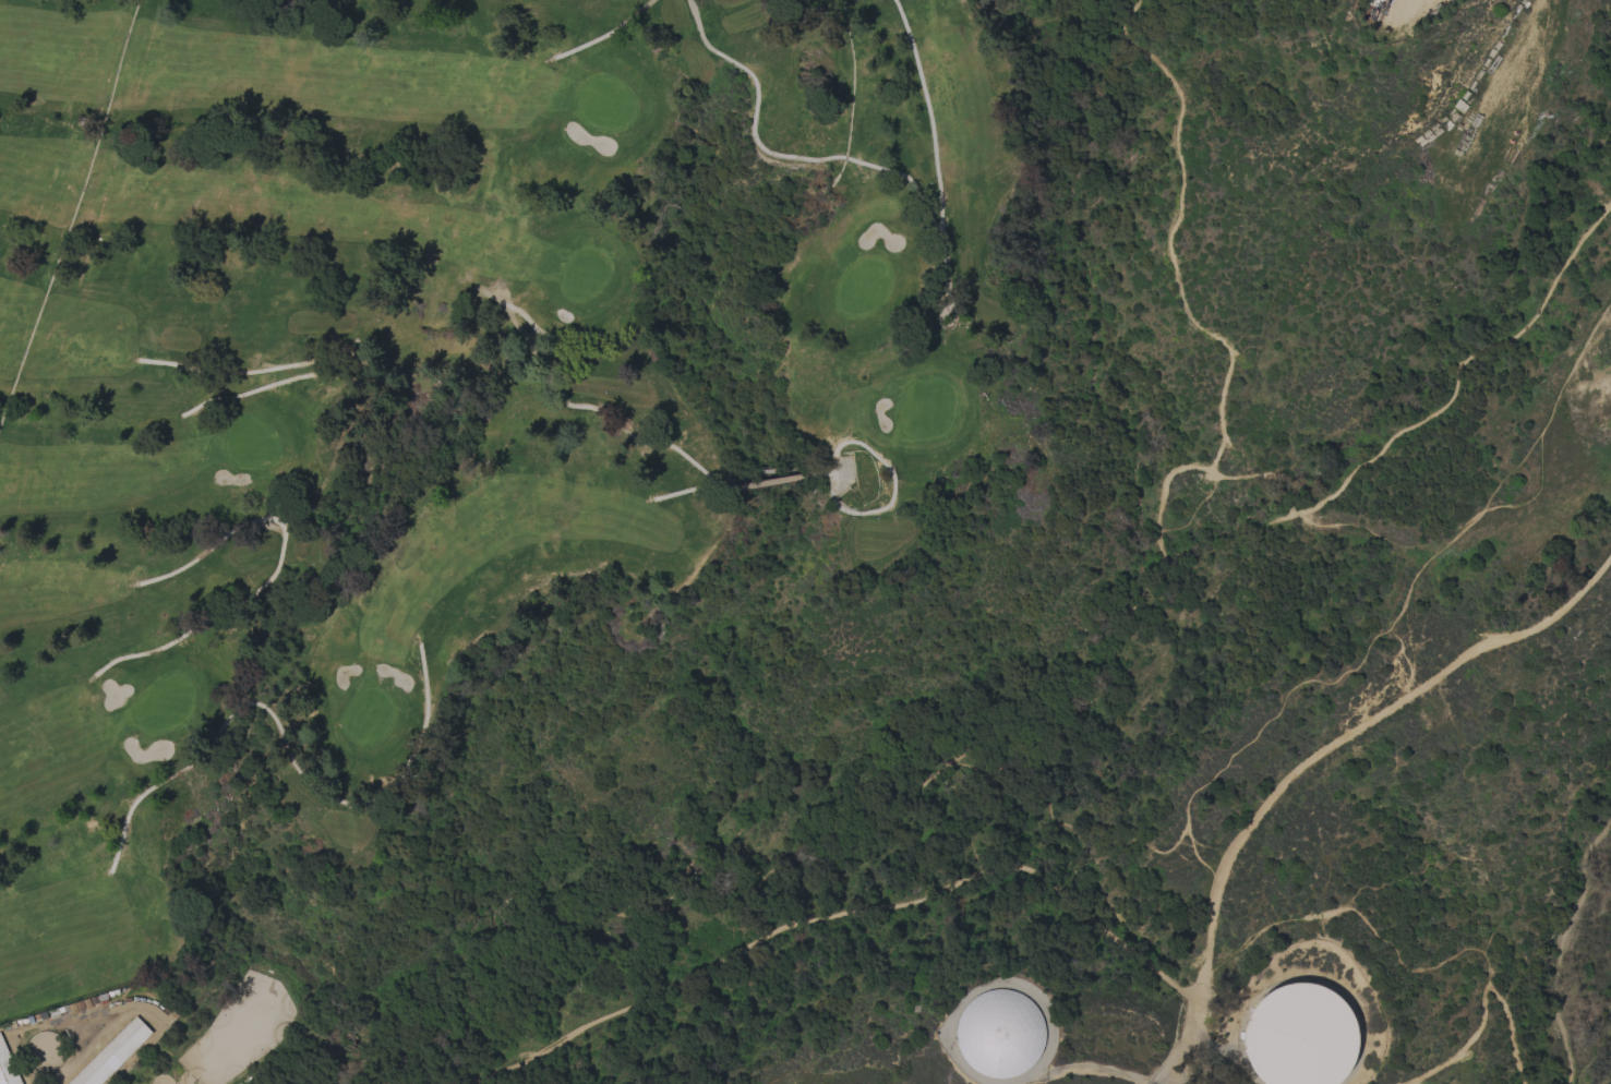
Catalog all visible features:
road: (608, 32)
road: (753, 133)
road: (936, 168)
road: (1170, 241)
road: (233, 371)
road: (249, 390)
park: (441, 390)
road: (642, 439)
road: (817, 475)
road: (771, 482)
road: (693, 489)
road: (275, 570)
park: (1099, 649)
road: (423, 682)
road: (1061, 715)
road: (1362, 731)
road: (166, 778)
road: (837, 912)
road: (1564, 954)
road: (1197, 990)
road: (1483, 1004)
building: (146, 1009)
building: (1000, 1034)
building: (1300, 1036)
road: (1176, 1041)
building: (113, 1053)
building: (7, 1067)
road: (1608, 1076)
road: (1603, 1083)

